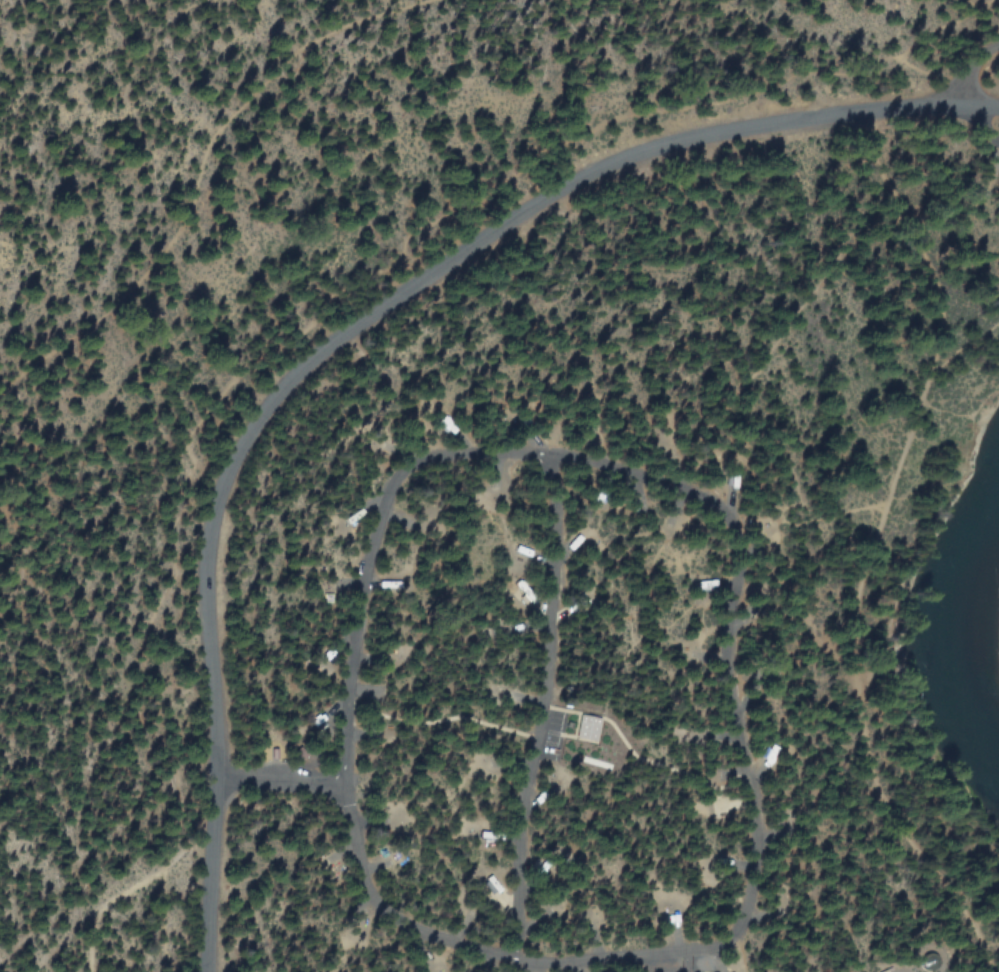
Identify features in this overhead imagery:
road: (972, 71)
road: (975, 129)
road: (200, 158)
road: (958, 247)
road: (352, 325)
road: (742, 590)
river: (955, 633)
road: (845, 649)
road: (545, 712)
building: (585, 727)
road: (708, 962)
road: (680, 963)

